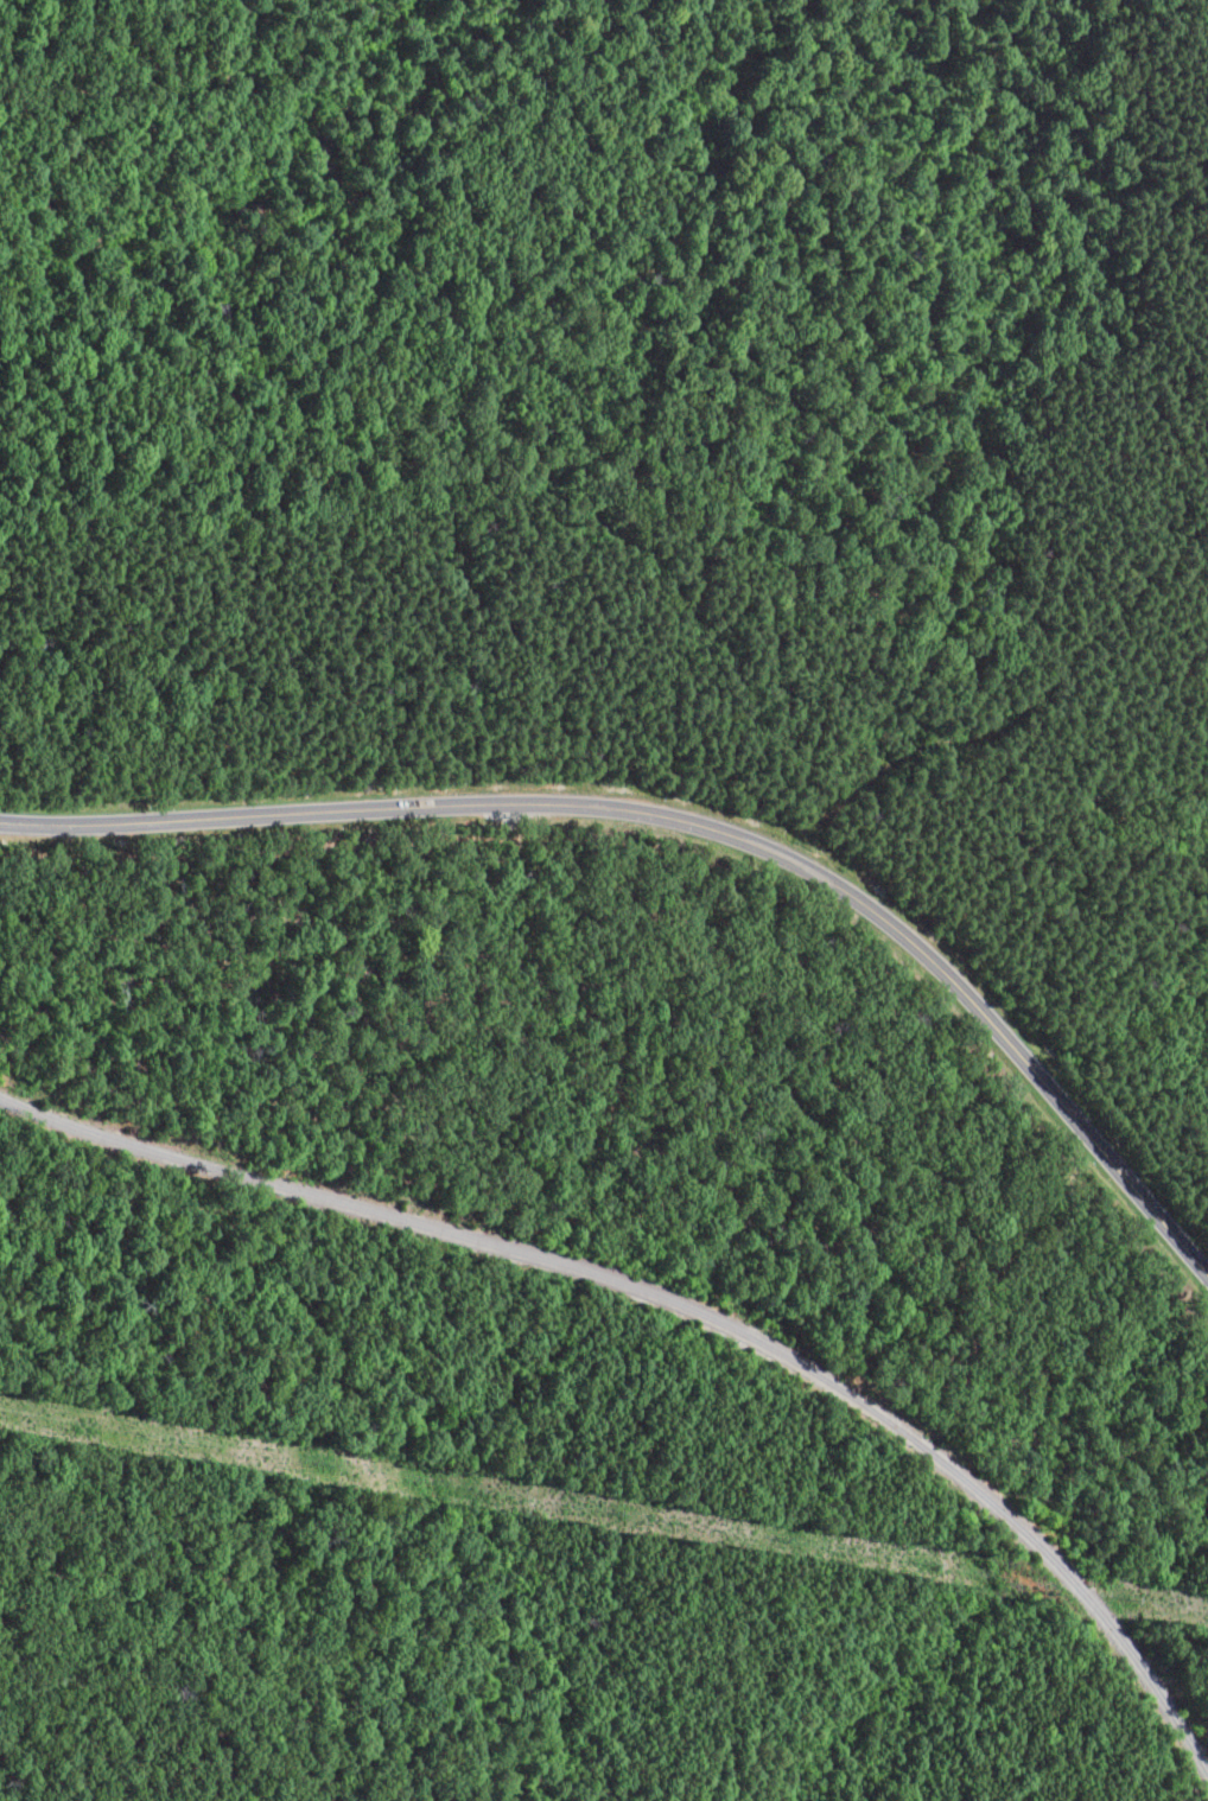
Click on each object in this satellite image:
road: (691, 827)
railway: (678, 1304)

